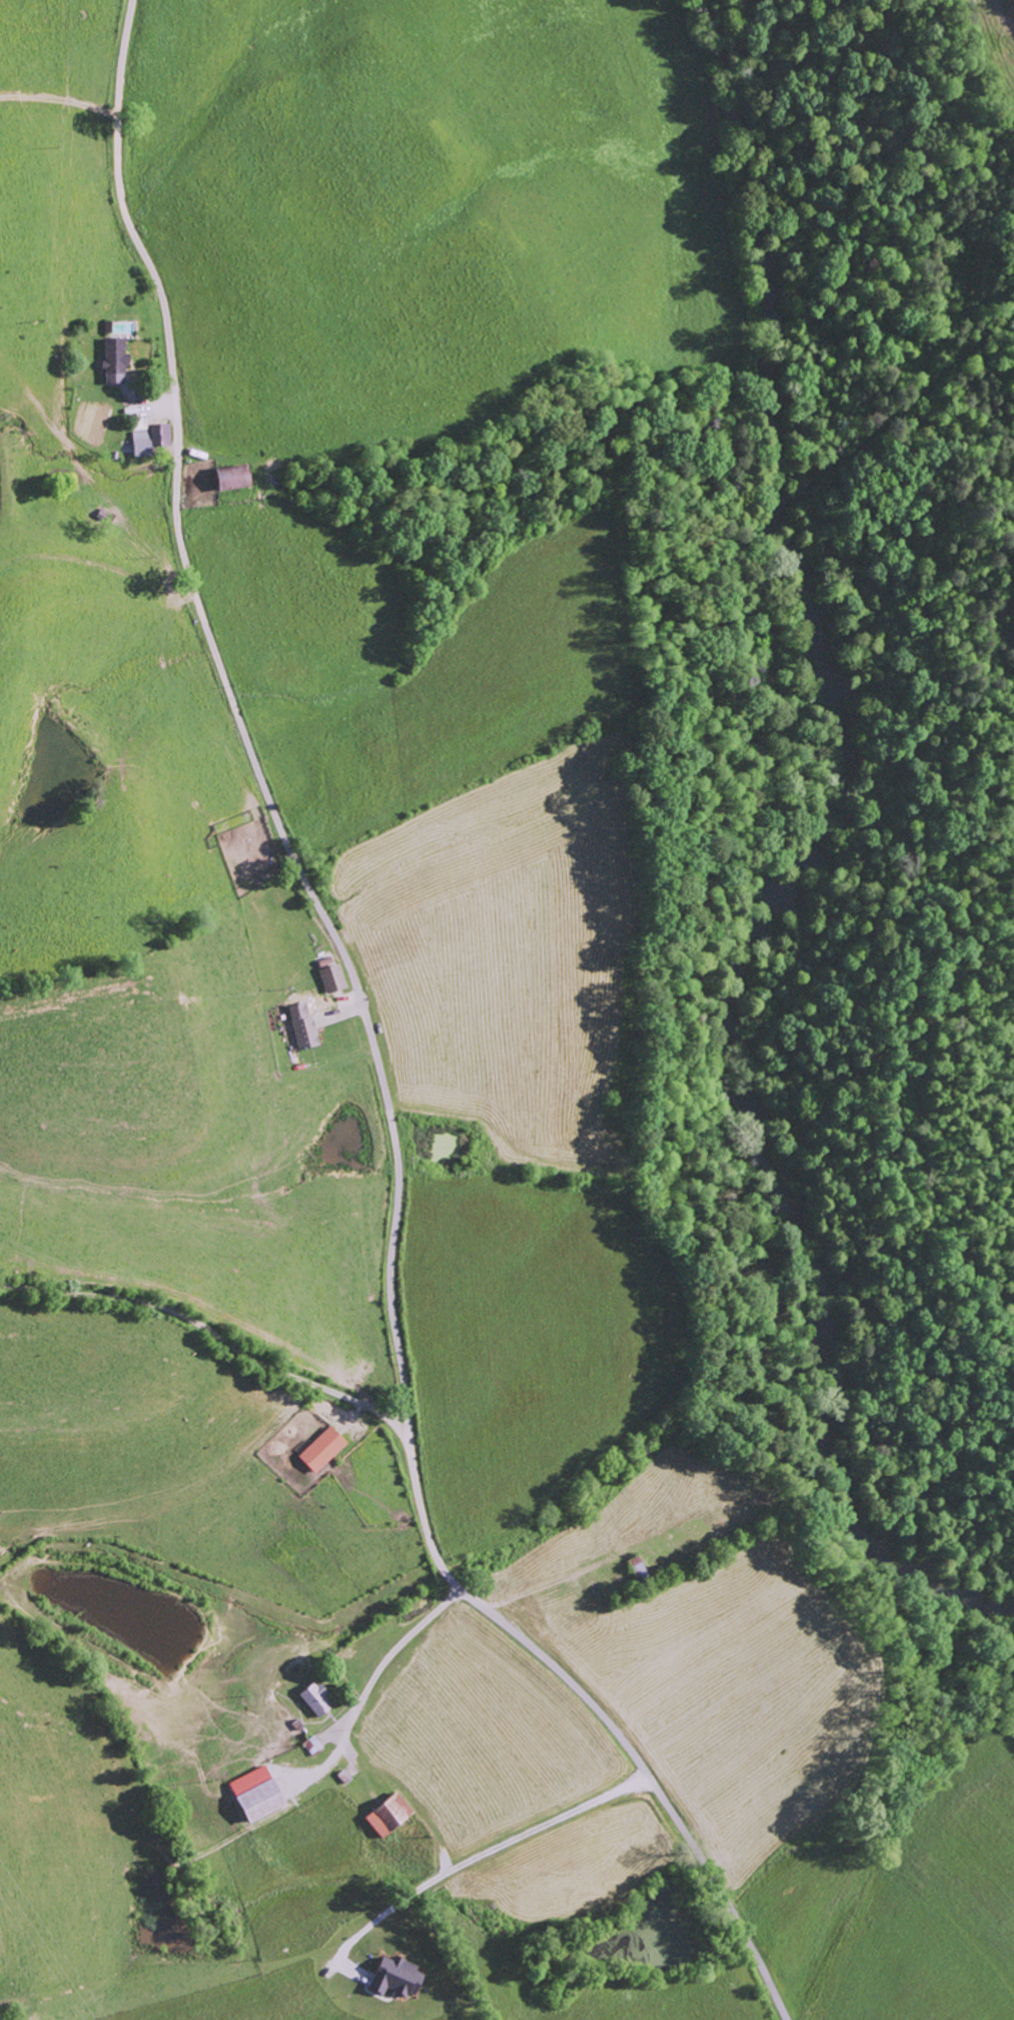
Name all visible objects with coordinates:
building: (112, 360)
building: (139, 425)
building: (148, 440)
building: (229, 478)
building: (331, 978)
building: (303, 1032)
road: (376, 1051)
road: (210, 1331)
building: (320, 1449)
building: (635, 1567)
building: (313, 1699)
building: (310, 1745)
building: (253, 1794)
building: (385, 1814)
building: (393, 1977)

